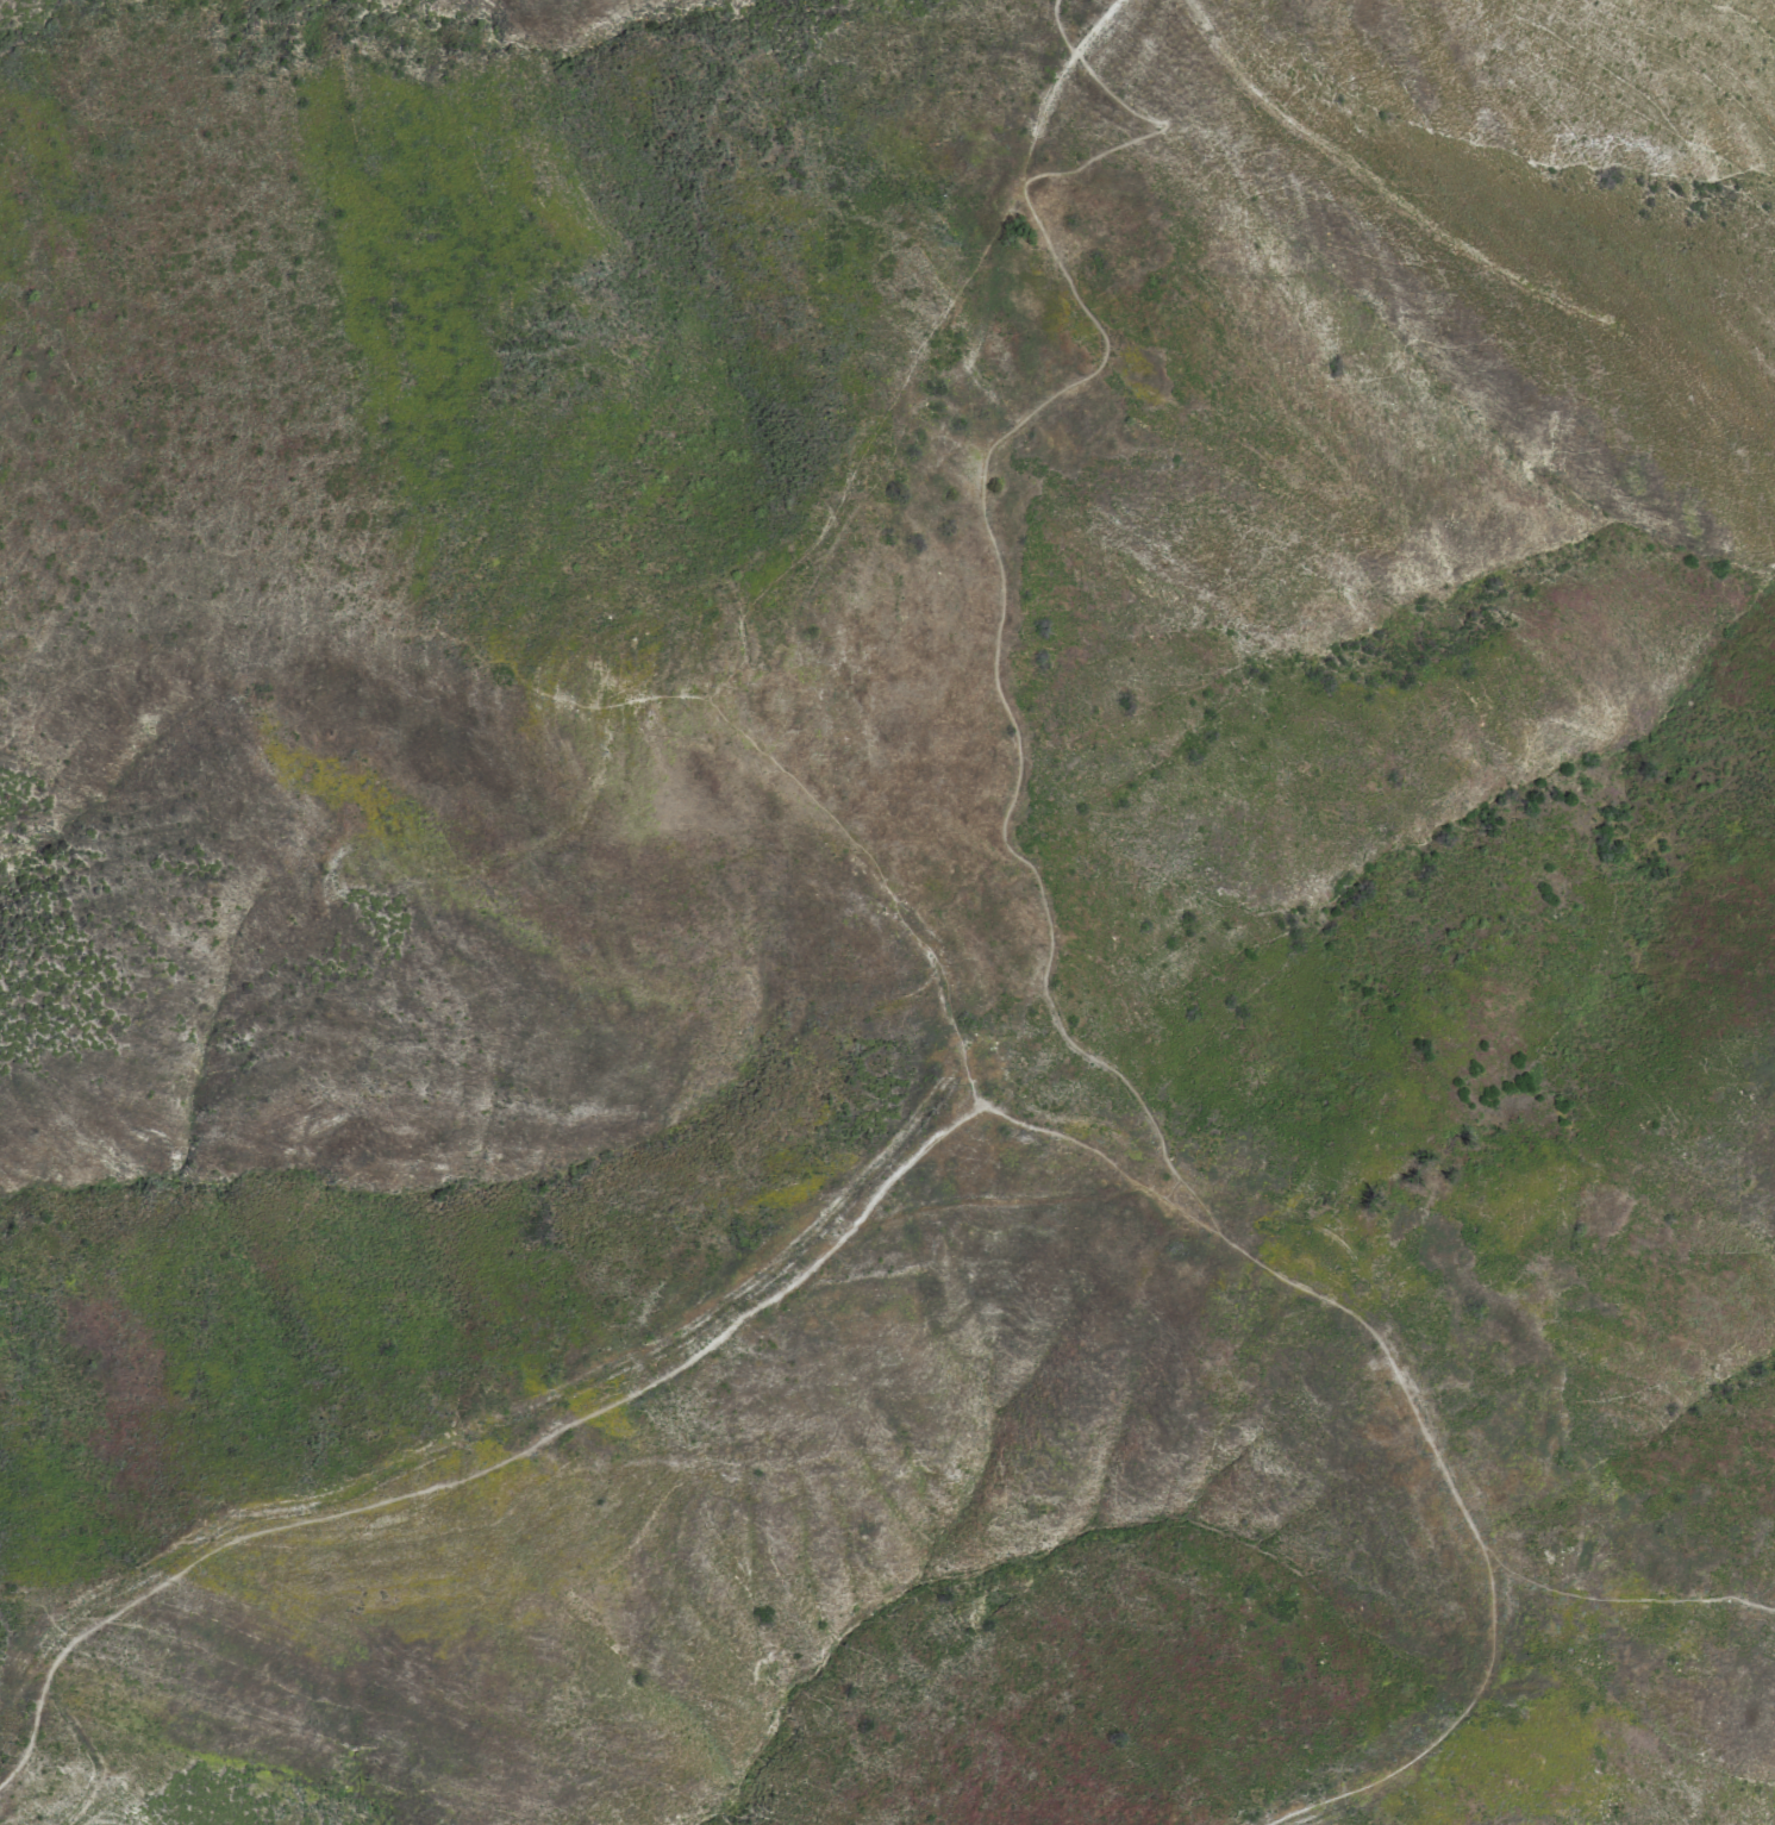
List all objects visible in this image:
road: (1019, 183)
road: (983, 526)
road: (793, 561)
road: (974, 1095)
road: (1158, 1192)
road: (1296, 1286)
road: (487, 1470)
road: (1626, 1600)
road: (1430, 1745)

